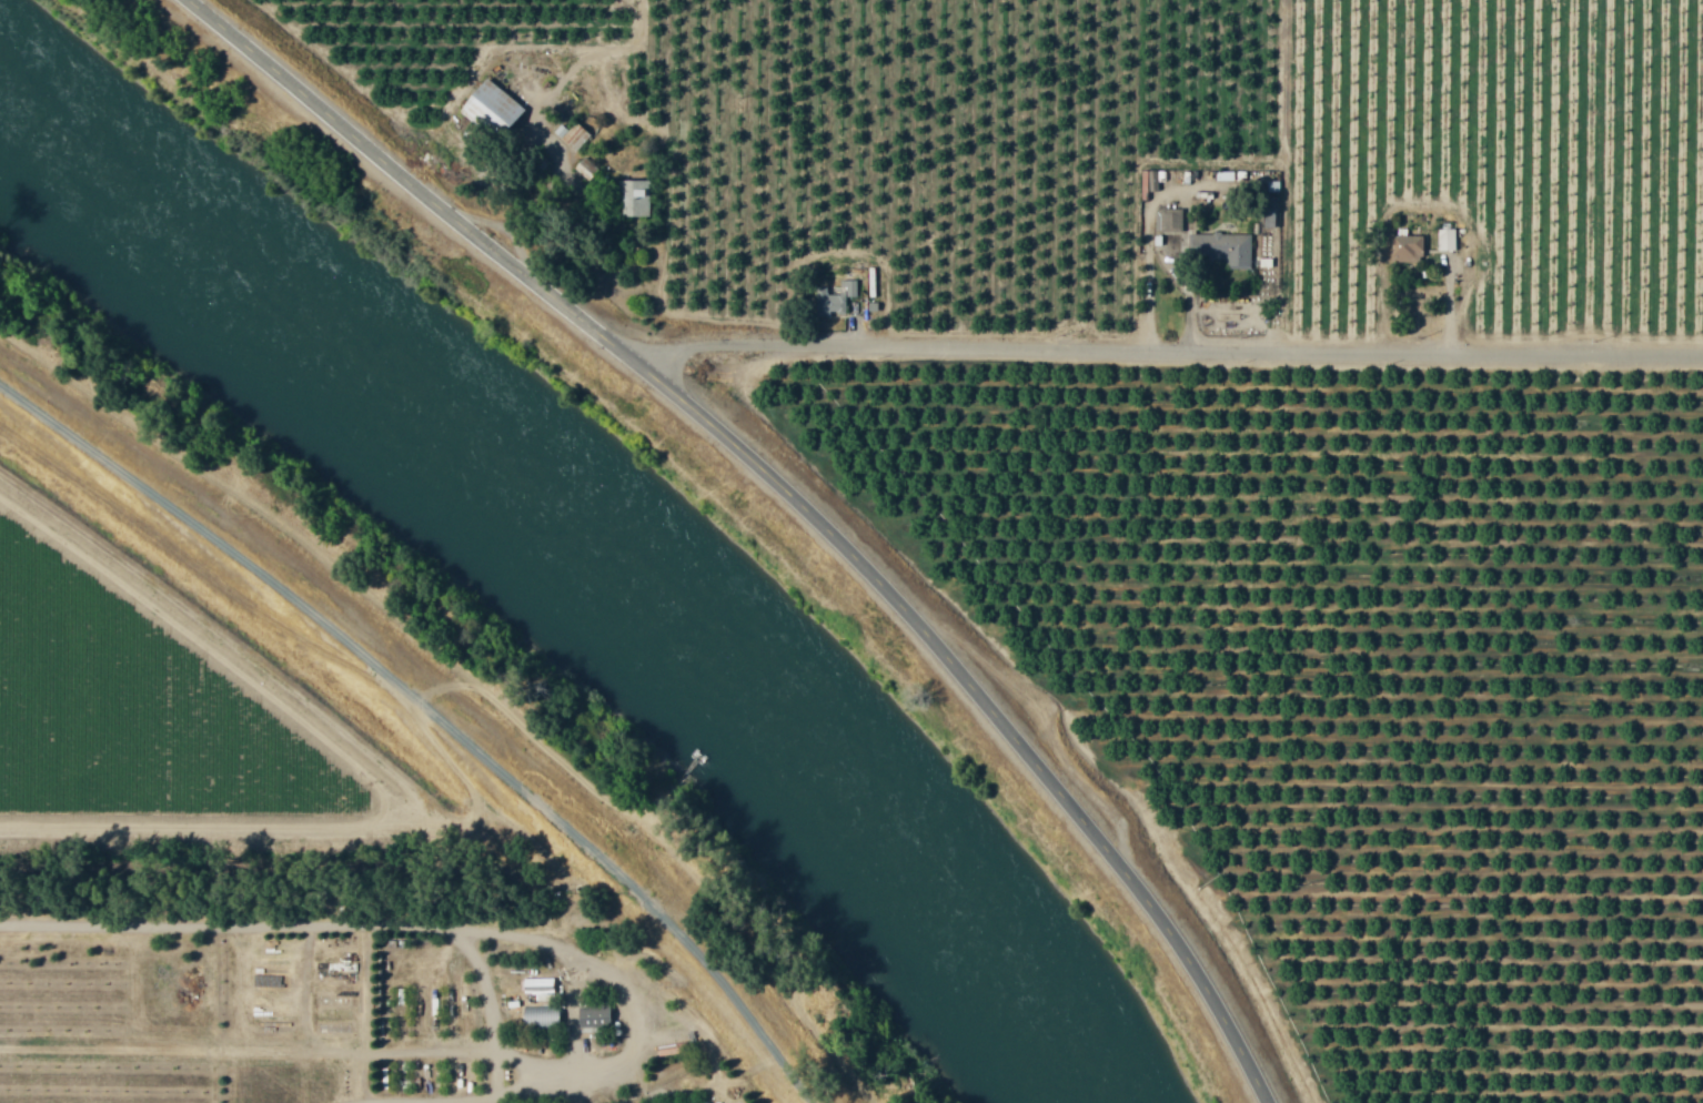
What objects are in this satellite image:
building: (498, 108)
building: (637, 199)
building: (1269, 217)
building: (1170, 220)
building: (1447, 239)
building: (1405, 247)
building: (1228, 249)
building: (834, 297)
road: (1172, 348)
road: (792, 493)
river: (601, 535)
road: (431, 718)
road: (179, 833)
road: (380, 929)
building: (542, 986)
road: (622, 990)
building: (544, 1016)
building: (598, 1021)

